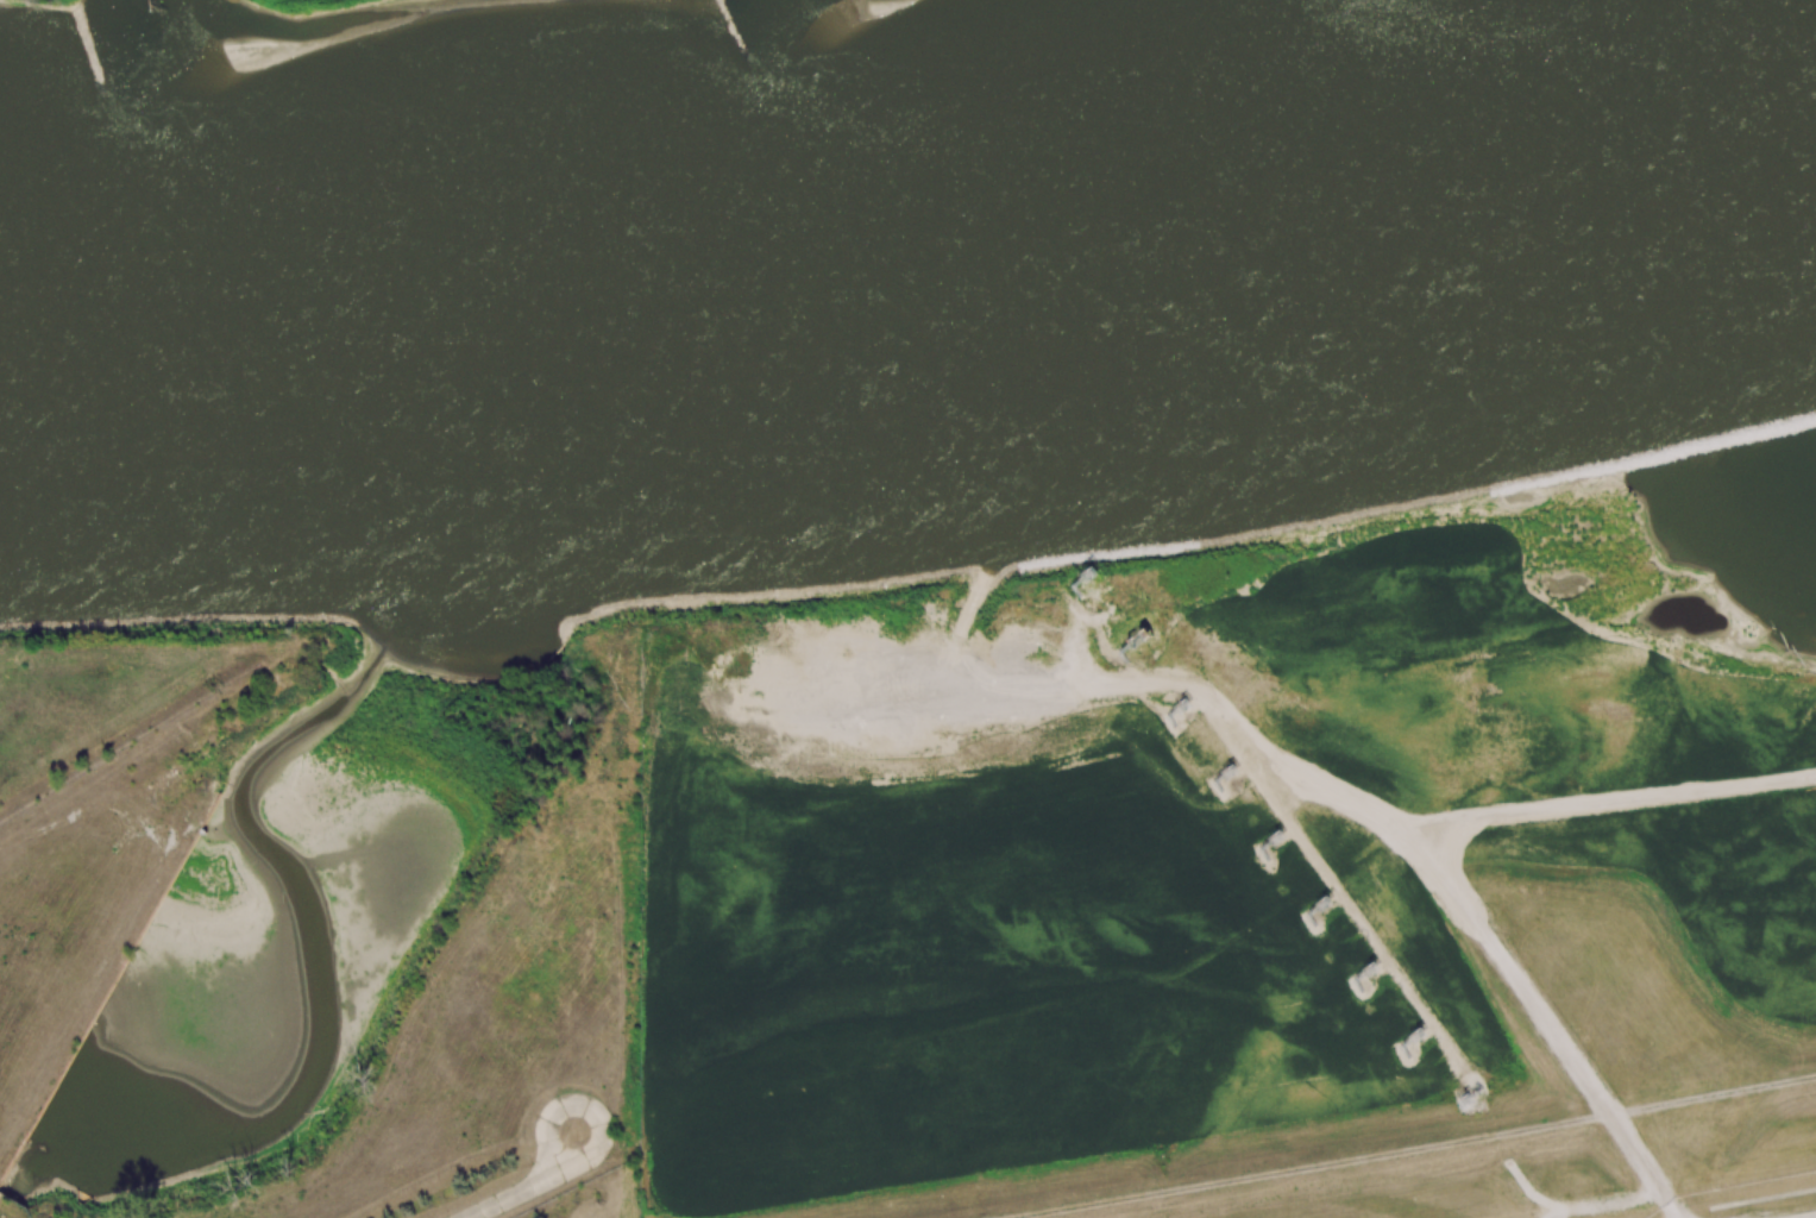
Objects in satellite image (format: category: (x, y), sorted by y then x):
river: (915, 277)
road: (962, 627)
road: (1317, 784)
road: (1603, 802)
road: (1449, 845)
road: (1330, 881)
road: (533, 1187)
airport: (1749, 1200)
road: (1576, 1207)
road: (1556, 1213)

